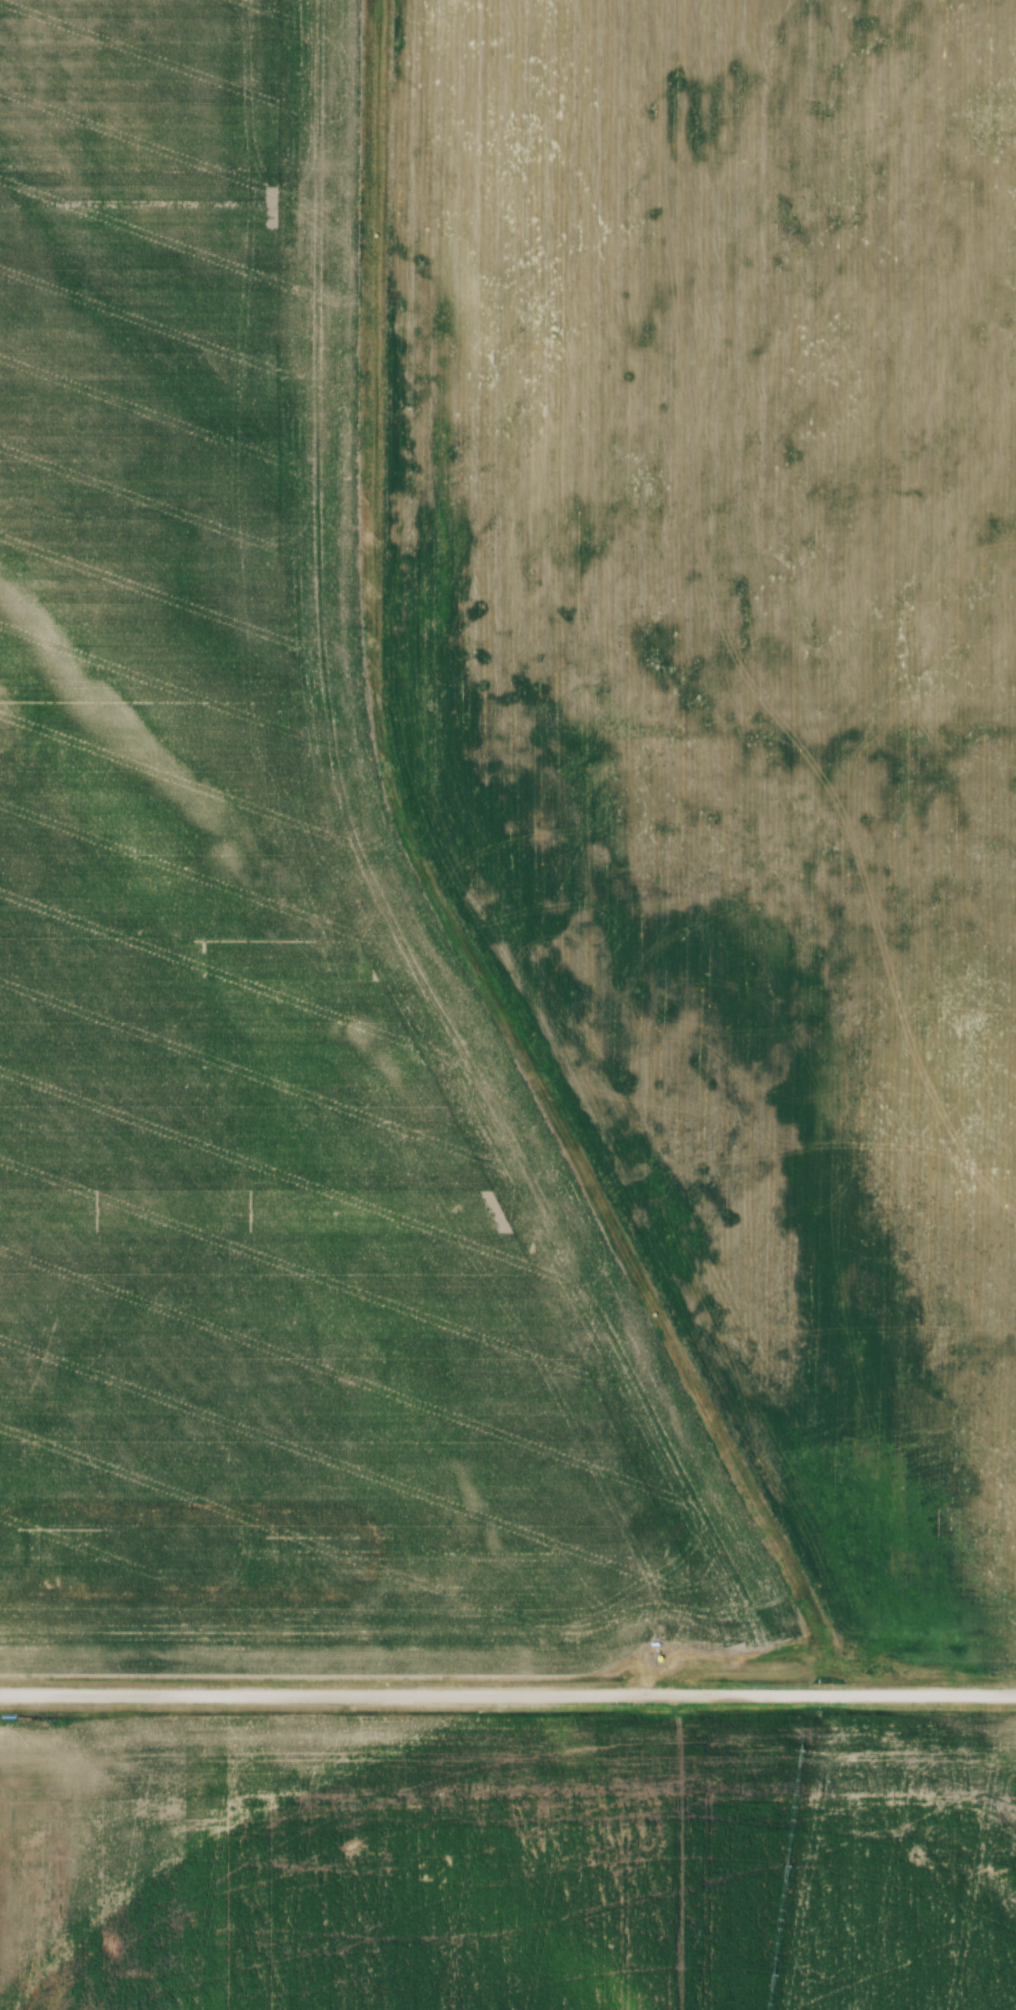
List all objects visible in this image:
road: (508, 1701)

